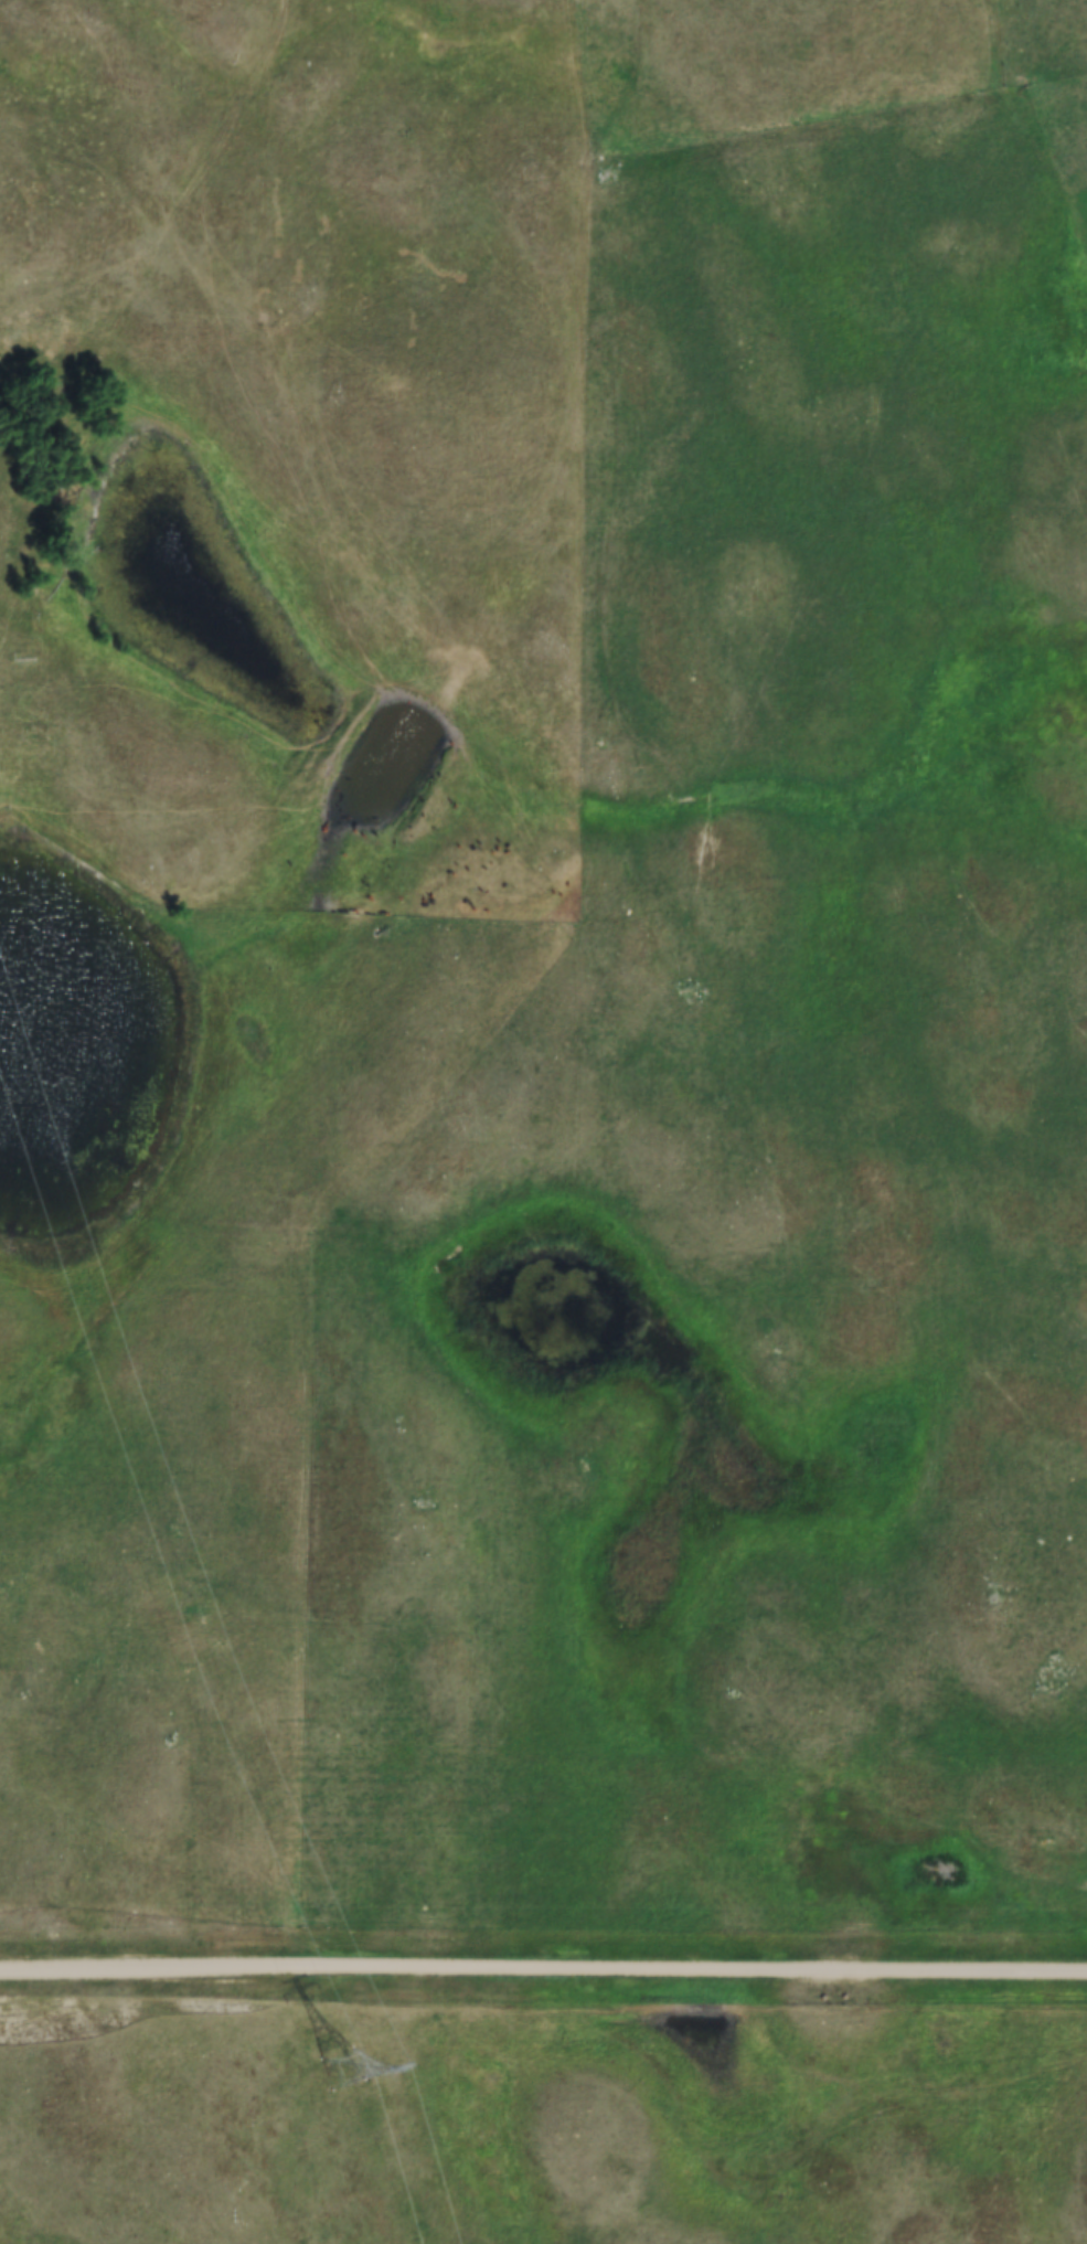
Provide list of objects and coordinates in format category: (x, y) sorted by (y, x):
road: (543, 1974)
power tower: (345, 2068)

